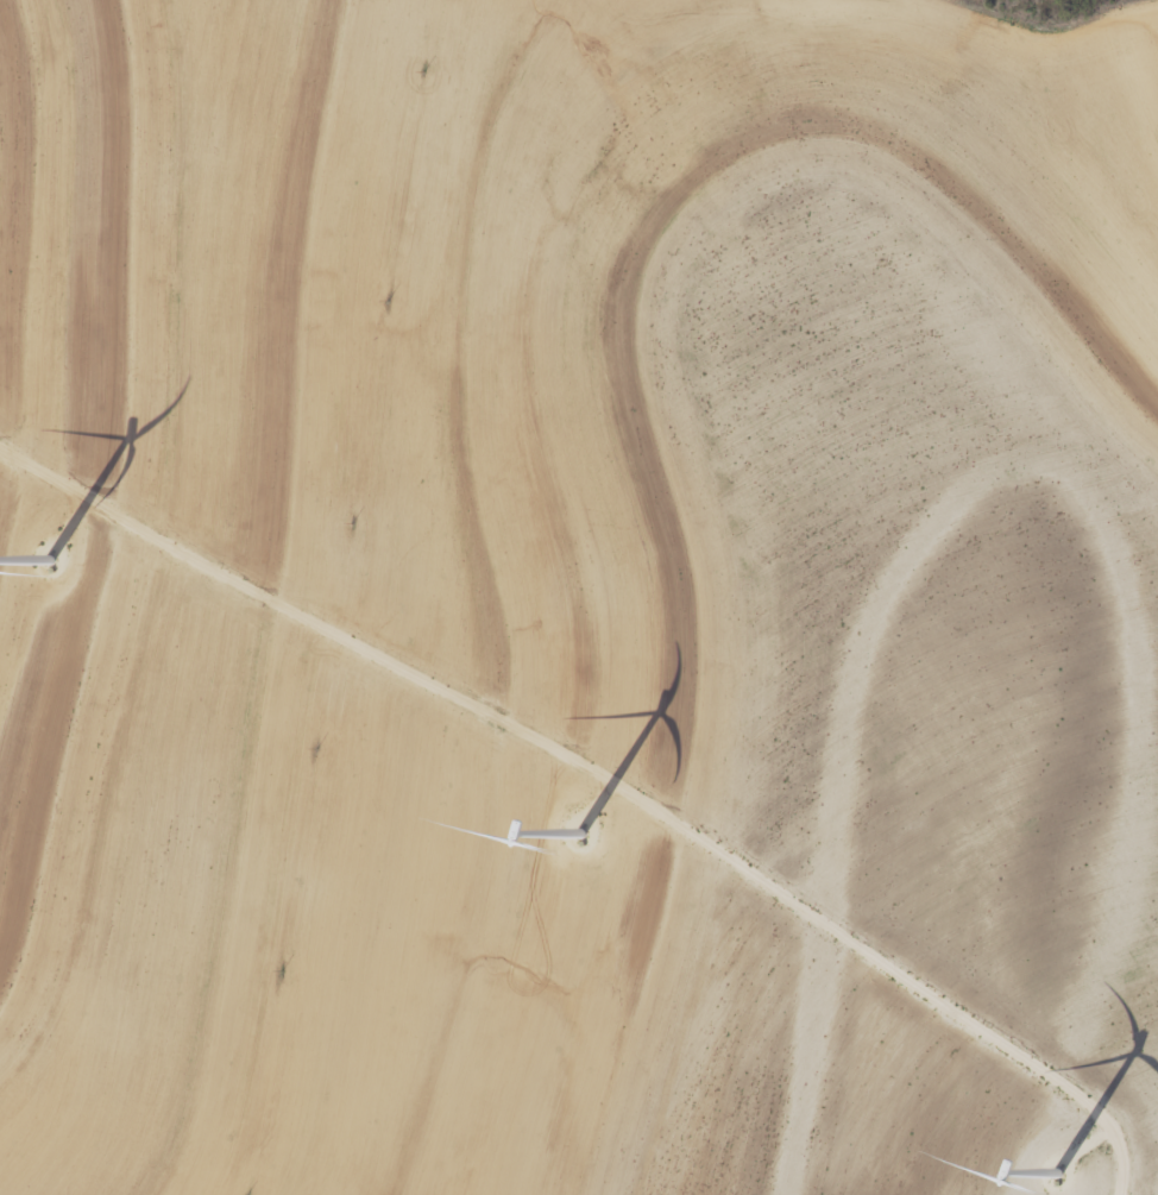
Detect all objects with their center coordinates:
wind turbine: (56, 577)
road: (605, 774)
wind turbine: (578, 861)
wind turbine: (1061, 1138)

